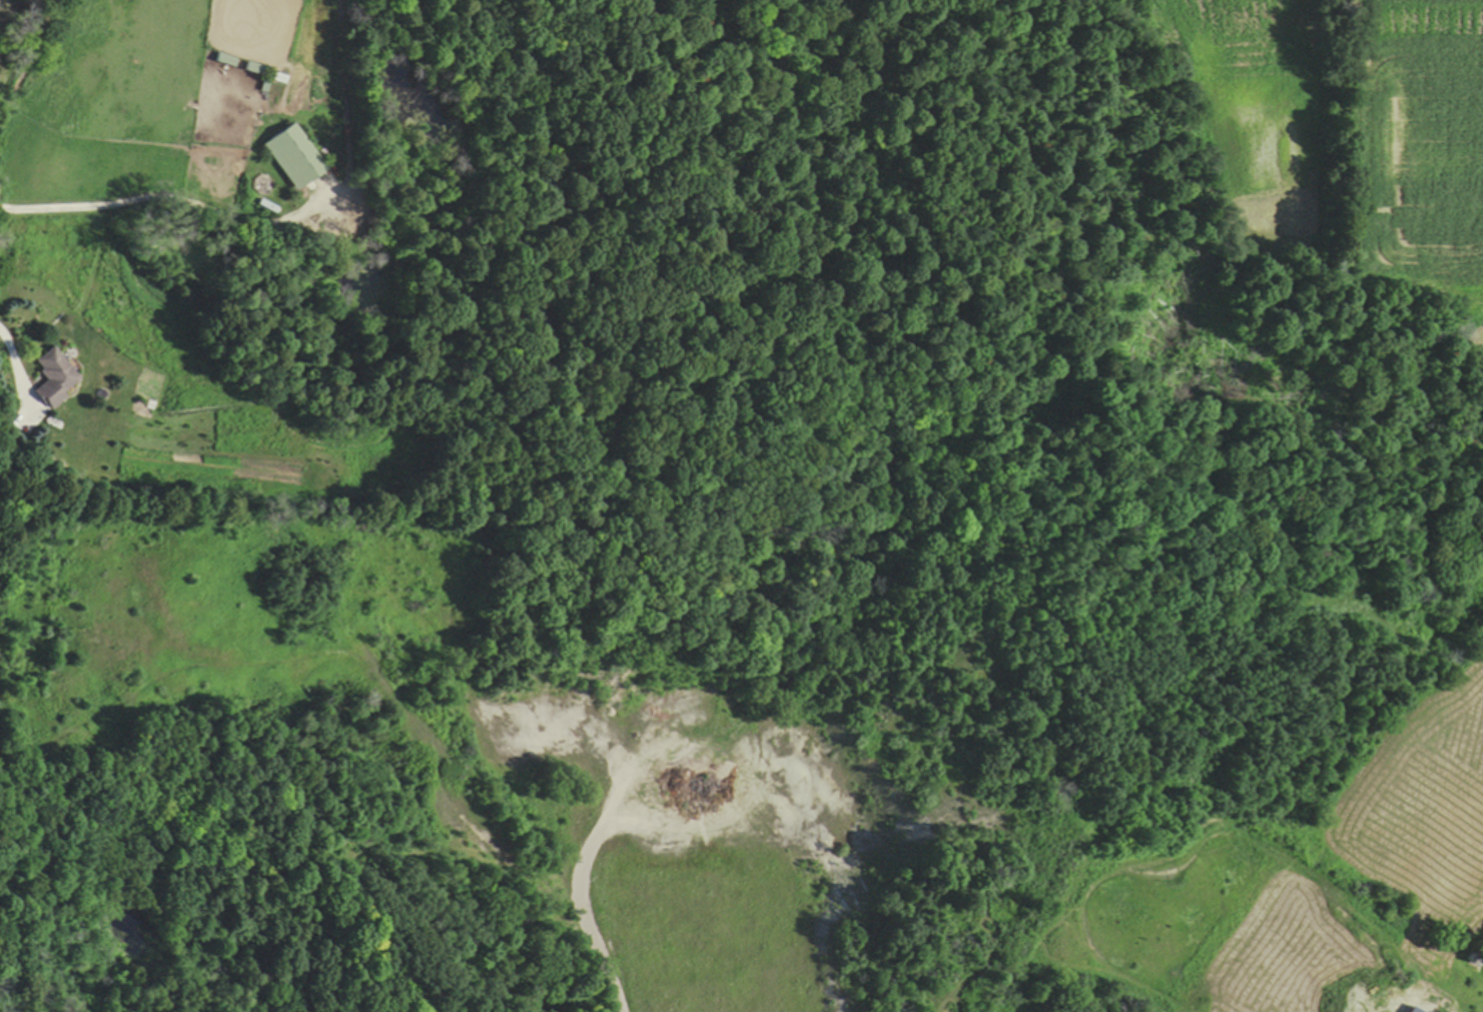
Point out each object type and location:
building: (226, 59)
building: (256, 68)
building: (291, 155)
building: (53, 377)

